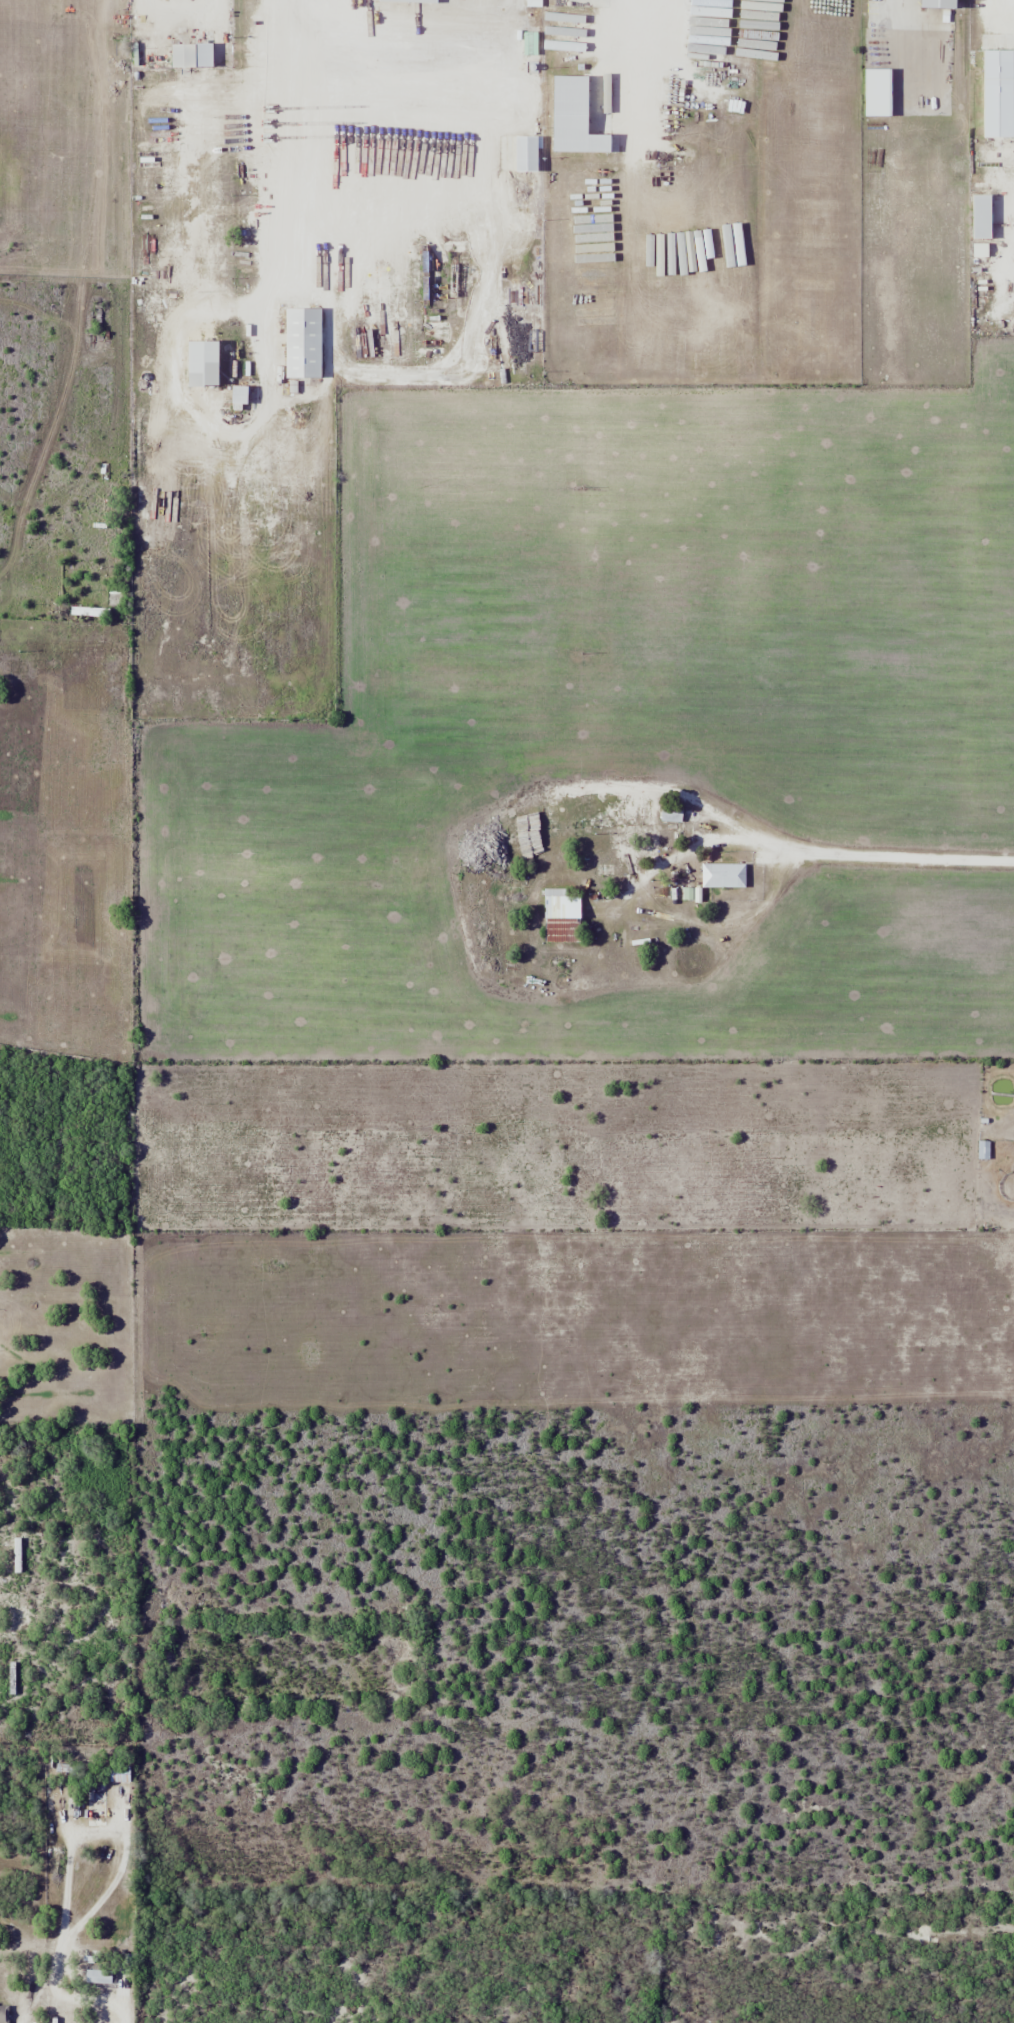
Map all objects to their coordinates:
building: (412, 1)
building: (940, 4)
building: (184, 56)
building: (667, 81)
building: (877, 93)
building: (479, 330)
building: (303, 344)
building: (204, 364)
building: (240, 399)
building: (89, 612)
building: (723, 875)
building: (561, 921)
building: (983, 1150)
building: (119, 1774)
building: (98, 1976)

